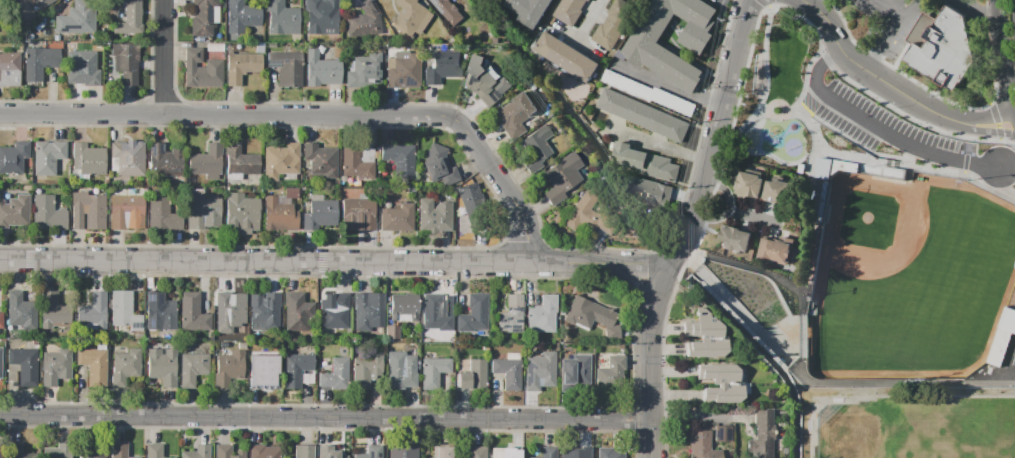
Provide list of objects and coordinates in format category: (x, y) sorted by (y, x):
road: (957, 0)
road: (996, 1)
building: (41, 4)
building: (111, 7)
road: (995, 7)
building: (449, 10)
building: (528, 11)
building: (570, 11)
road: (976, 13)
building: (319, 15)
road: (591, 15)
building: (240, 16)
building: (201, 18)
building: (281, 18)
building: (412, 18)
building: (75, 19)
building: (128, 20)
building: (363, 20)
parking lot: (892, 20)
building: (614, 22)
road: (898, 29)
road: (834, 39)
building: (942, 47)
building: (642, 48)
road: (165, 57)
building: (566, 58)
road: (763, 61)
building: (38, 63)
building: (125, 64)
road: (1001, 65)
building: (9, 66)
building: (441, 66)
road: (874, 66)
building: (81, 68)
building: (240, 68)
building: (286, 68)
building: (362, 70)
building: (201, 71)
building: (322, 71)
building: (404, 73)
road: (805, 77)
building: (488, 86)
road: (666, 87)
building: (648, 94)
building: (849, 98)
road: (912, 98)
parking lot: (789, 99)
road: (738, 101)
road: (789, 111)
road: (772, 114)
road: (993, 114)
building: (516, 115)
building: (641, 115)
road: (311, 116)
road: (748, 121)
road: (881, 129)
road: (739, 131)
road: (982, 134)
road: (967, 140)
road: (660, 143)
building: (532, 145)
road: (753, 152)
building: (398, 156)
building: (46, 157)
building: (13, 158)
road: (903, 158)
building: (320, 160)
building: (127, 161)
building: (164, 161)
building: (206, 161)
building: (281, 161)
building: (86, 163)
building: (354, 163)
building: (240, 164)
building: (644, 164)
building: (440, 169)
building: (563, 180)
building: (749, 185)
building: (650, 191)
building: (778, 191)
road: (815, 193)
building: (469, 197)
road: (503, 205)
road: (734, 209)
building: (14, 210)
building: (203, 210)
building: (87, 212)
building: (126, 213)
road: (694, 213)
building: (241, 214)
building: (320, 215)
building: (358, 215)
building: (50, 216)
building: (162, 216)
building: (278, 217)
building: (433, 217)
building: (586, 217)
road: (713, 218)
building: (396, 219)
building: (735, 240)
building: (776, 252)
road: (333, 263)
road: (746, 265)
park: (913, 282)
building: (756, 284)
road: (799, 300)
road: (735, 307)
building: (402, 308)
building: (19, 309)
building: (367, 311)
building: (54, 312)
building: (227, 312)
building: (266, 312)
building: (158, 313)
building: (295, 313)
building: (90, 314)
building: (123, 314)
building: (192, 314)
building: (543, 314)
building: (334, 315)
building: (434, 315)
building: (474, 315)
building: (510, 315)
building: (587, 315)
building: (1, 321)
road: (799, 335)
building: (1003, 337)
building: (702, 338)
building: (1, 354)
building: (0, 360)
building: (92, 364)
building: (24, 366)
building: (125, 366)
building: (55, 367)
building: (161, 367)
building: (574, 367)
building: (228, 368)
building: (539, 368)
building: (192, 369)
building: (260, 370)
building: (295, 370)
building: (401, 370)
building: (366, 371)
building: (434, 372)
building: (508, 373)
building: (717, 373)
building: (610, 375)
building: (335, 376)
building: (472, 377)
road: (899, 380)
building: (720, 395)
road: (697, 413)
road: (327, 420)
park: (1013, 425)
road: (328, 427)
park: (908, 428)
building: (760, 435)
road: (654, 441)
building: (701, 446)
building: (0, 450)
building: (16, 451)
building: (57, 451)
building: (95, 451)
building: (118, 451)
building: (154, 451)
building: (262, 451)
building: (197, 452)
building: (226, 452)
building: (303, 452)
building: (611, 452)
building: (326, 453)
building: (371, 453)
building: (409, 453)
building: (441, 453)
building: (476, 453)
building: (500, 453)
building: (547, 453)
building: (580, 454)

